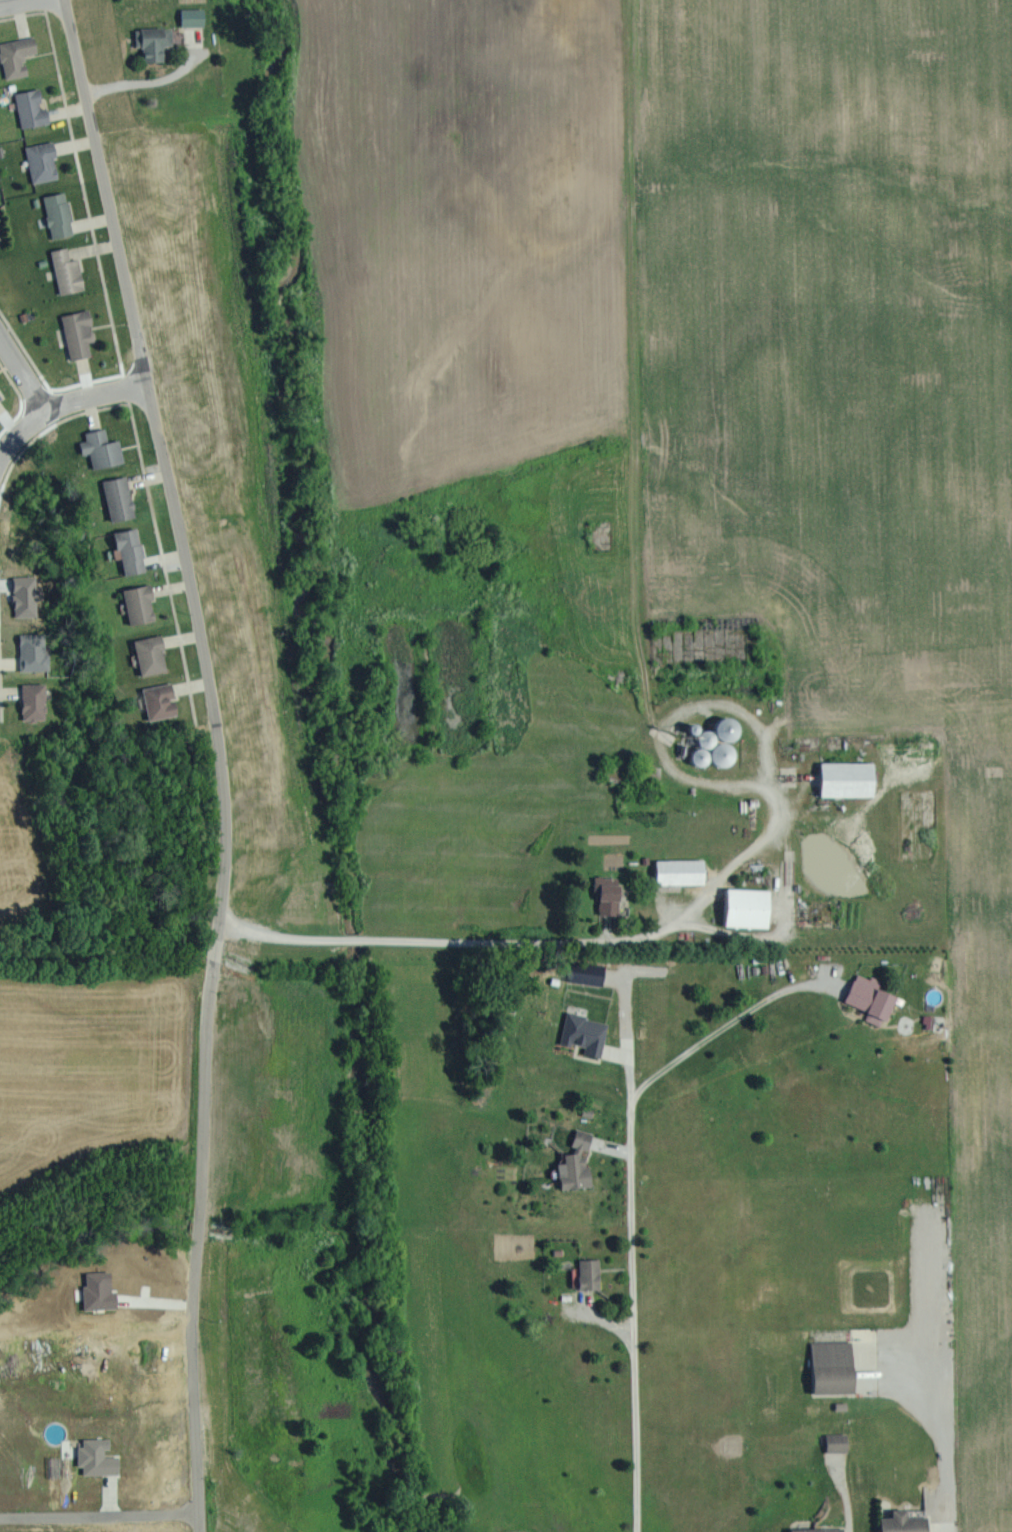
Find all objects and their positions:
road: (20, 4)
building: (195, 16)
building: (155, 42)
building: (18, 56)
road: (144, 89)
building: (33, 108)
building: (44, 160)
building: (61, 213)
building: (69, 270)
building: (81, 332)
road: (22, 375)
building: (0, 398)
road: (95, 398)
road: (19, 426)
building: (104, 447)
building: (121, 497)
building: (132, 549)
building: (28, 594)
building: (142, 603)
building: (35, 651)
building: (153, 654)
building: (35, 700)
building: (162, 700)
building: (719, 741)
road: (222, 758)
building: (850, 778)
building: (682, 870)
building: (611, 898)
building: (749, 906)
road: (455, 945)
building: (872, 997)
building: (587, 1033)
building: (579, 1162)
building: (592, 1273)
building: (867, 1334)
building: (835, 1366)
building: (840, 1442)
building: (99, 1457)
building: (907, 1521)
building: (821, 1529)

